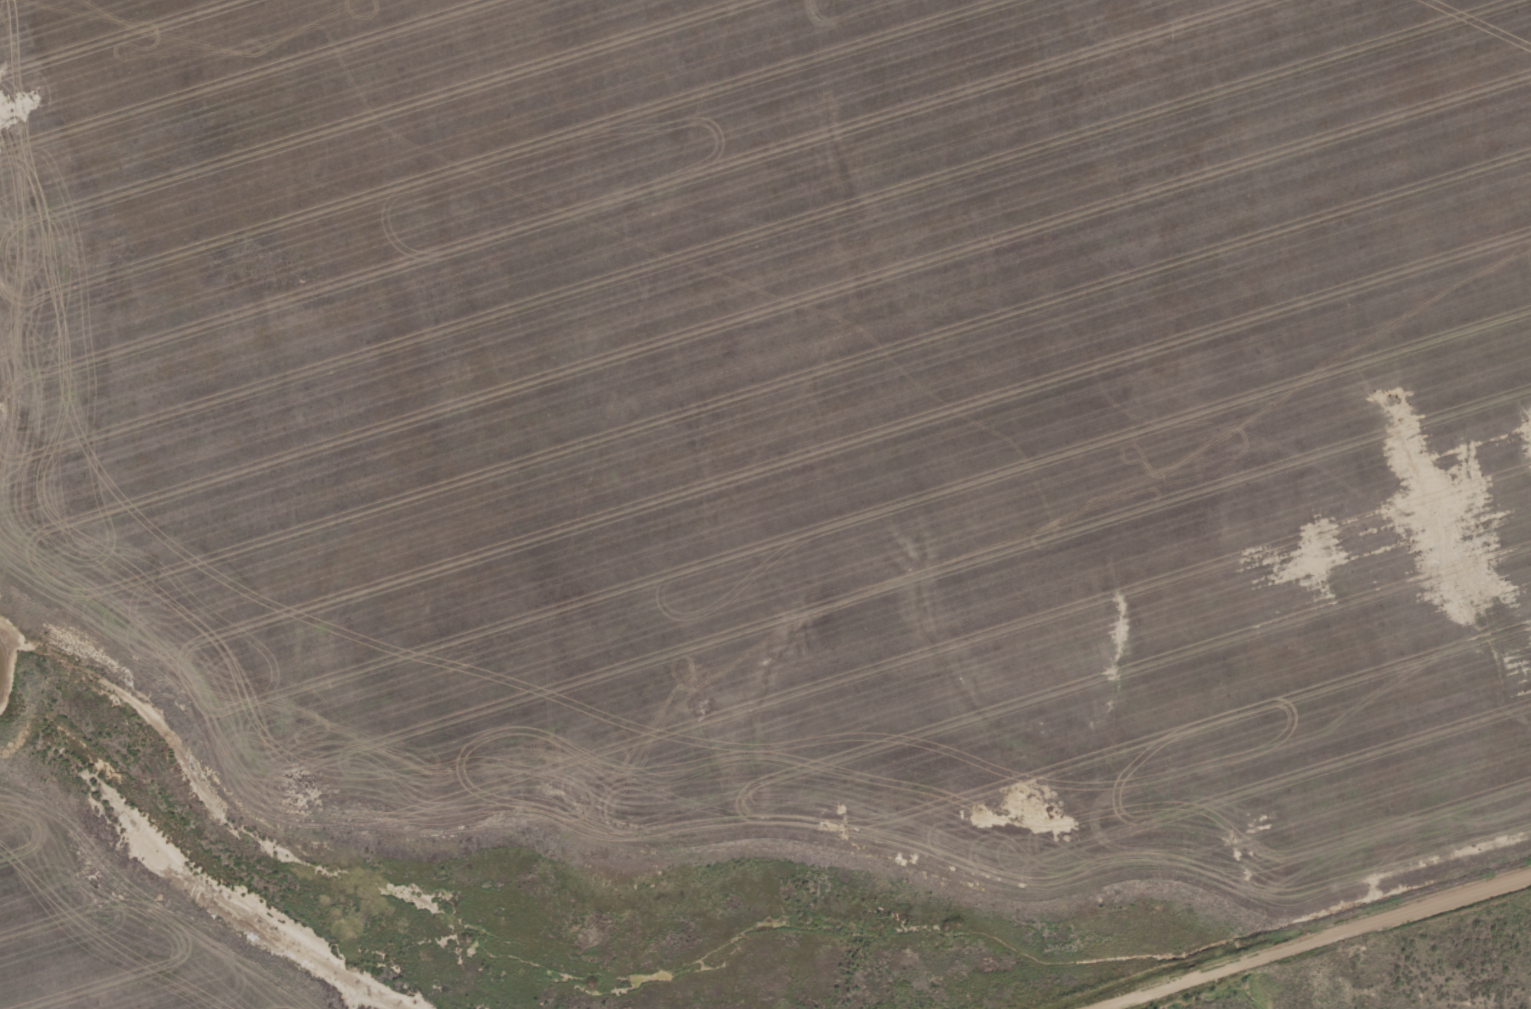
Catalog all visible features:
road: (1306, 940)

